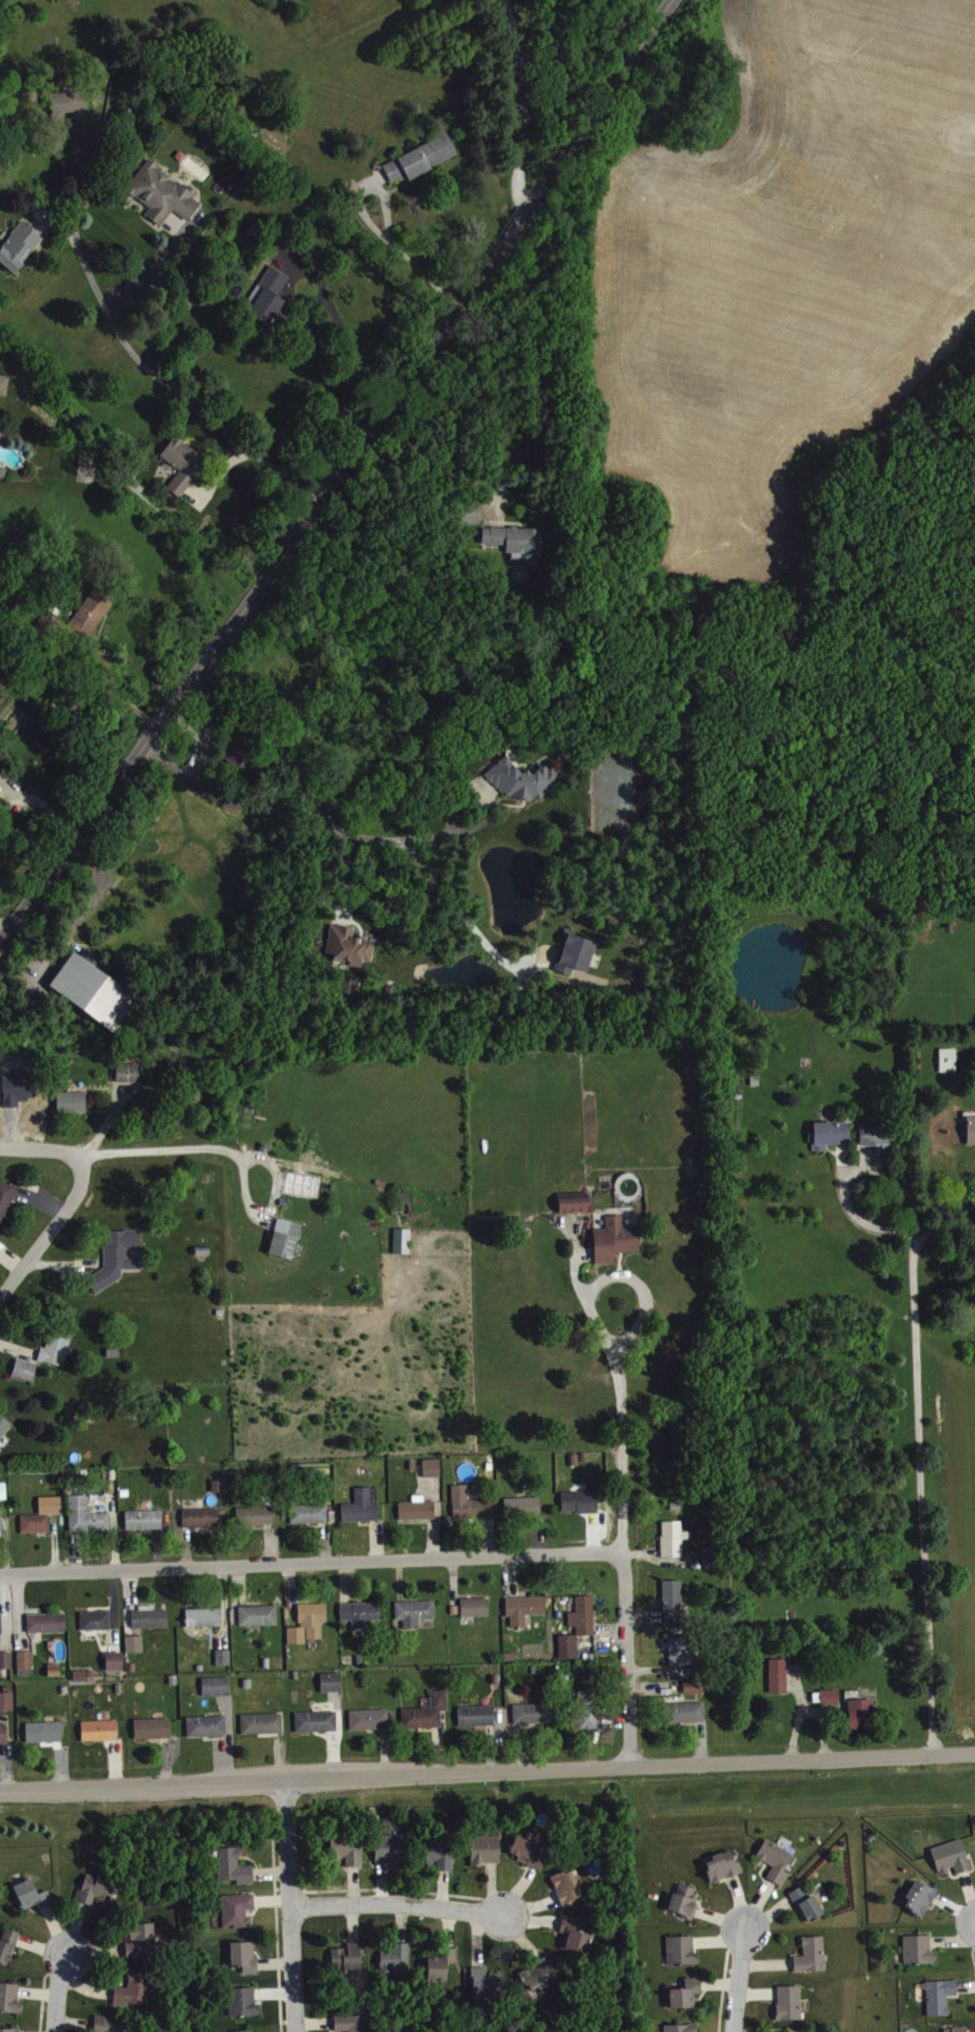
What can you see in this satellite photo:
building: (101, 69)
road: (523, 108)
building: (423, 158)
building: (164, 193)
building: (20, 246)
road: (407, 258)
building: (271, 296)
road: (342, 339)
road: (132, 353)
building: (5, 384)
building: (87, 461)
building: (184, 464)
road: (338, 471)
building: (473, 512)
building: (516, 539)
building: (94, 612)
building: (238, 747)
building: (1, 772)
building: (525, 780)
road: (344, 830)
road: (452, 833)
road: (3, 928)
building: (351, 945)
building: (576, 953)
building: (96, 991)
building: (949, 1059)
building: (129, 1072)
building: (73, 1101)
building: (972, 1126)
building: (832, 1133)
building: (879, 1137)
road: (185, 1146)
road: (40, 1148)
building: (6, 1201)
building: (576, 1205)
road: (865, 1221)
road: (49, 1229)
building: (287, 1237)
building: (617, 1239)
building: (404, 1240)
building: (121, 1256)
building: (58, 1348)
road: (616, 1356)
building: (26, 1369)
building: (4, 1426)
building: (433, 1467)
road: (923, 1468)
building: (4, 1490)
building: (581, 1501)
building: (470, 1503)
building: (364, 1505)
building: (525, 1505)
building: (419, 1508)
building: (311, 1513)
building: (44, 1515)
building: (88, 1515)
building: (256, 1515)
building: (202, 1517)
building: (145, 1519)
building: (1, 1525)
building: (675, 1538)
building: (711, 1556)
road: (308, 1561)
building: (674, 1598)
building: (476, 1607)
building: (526, 1609)
building: (362, 1613)
building: (415, 1613)
building: (260, 1615)
building: (585, 1615)
building: (151, 1617)
building: (206, 1617)
building: (97, 1619)
building: (48, 1622)
building: (310, 1623)
building: (2, 1624)
building: (136, 1643)
building: (570, 1646)
building: (682, 1651)
building: (225, 1657)
road: (626, 1659)
building: (7, 1660)
building: (116, 1660)
building: (28, 1662)
building: (781, 1675)
building: (333, 1681)
building: (218, 1686)
building: (695, 1686)
building: (831, 1696)
building: (7, 1700)
building: (589, 1708)
building: (428, 1712)
building: (688, 1712)
building: (533, 1713)
building: (862, 1713)
building: (478, 1715)
building: (370, 1719)
building: (318, 1721)
building: (263, 1723)
building: (208, 1726)
building: (154, 1728)
building: (102, 1730)
building: (46, 1731)
building: (5, 1733)
road: (857, 1756)
road: (369, 1774)
building: (348, 1848)
building: (391, 1848)
building: (486, 1849)
building: (530, 1851)
building: (440, 1855)
building: (953, 1856)
building: (777, 1860)
building: (233, 1866)
building: (724, 1866)
building: (570, 1886)
building: (98, 1888)
building: (34, 1895)
building: (921, 1898)
building: (685, 1901)
building: (808, 1902)
road: (396, 1903)
road: (290, 1904)
building: (239, 1909)
building: (576, 1936)
building: (143, 1941)
building: (9, 1945)
building: (683, 1950)
building: (920, 1950)
building: (349, 1955)
building: (813, 1955)
building: (246, 1956)
building: (398, 1960)
building: (442, 1965)
building: (541, 1974)
road: (739, 1981)
building: (135, 1990)
road: (58, 1991)
building: (687, 1993)
building: (941, 1996)
building: (11, 1997)
building: (244, 2001)
building: (791, 2002)
building: (354, 2023)
building: (109, 2024)
building: (683, 2027)
building: (961, 2029)
building: (9, 2030)
building: (243, 2031)

